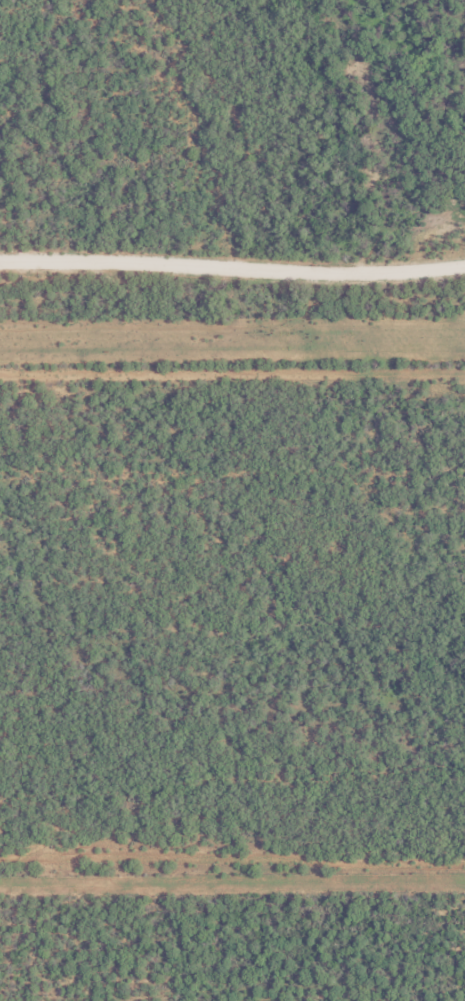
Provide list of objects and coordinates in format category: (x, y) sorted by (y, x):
road: (232, 268)

